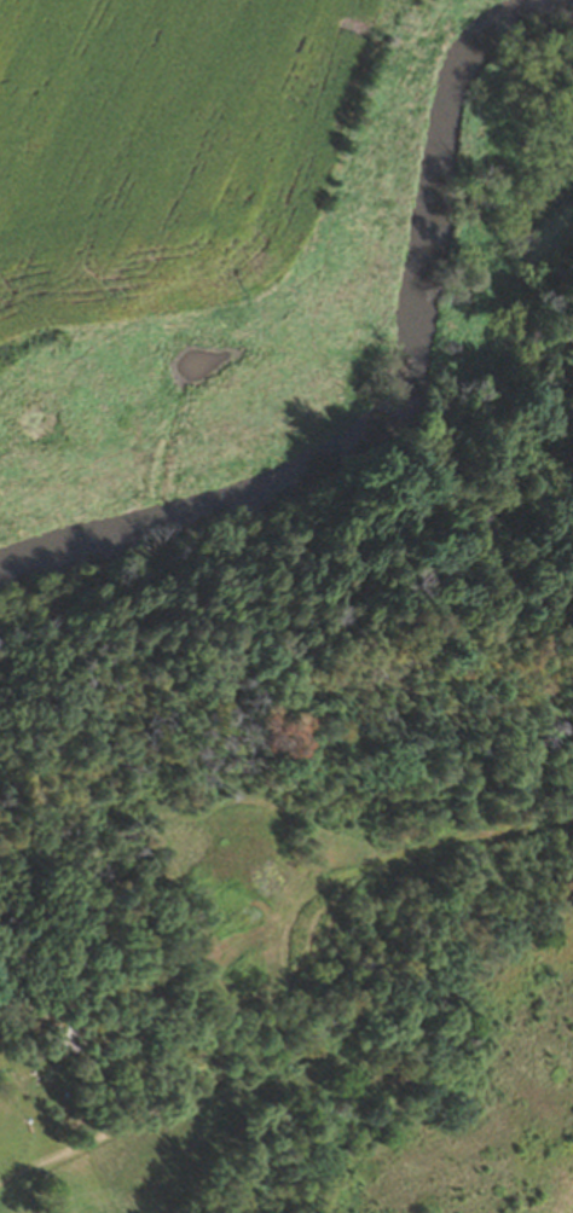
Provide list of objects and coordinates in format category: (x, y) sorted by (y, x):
river: (397, 405)

